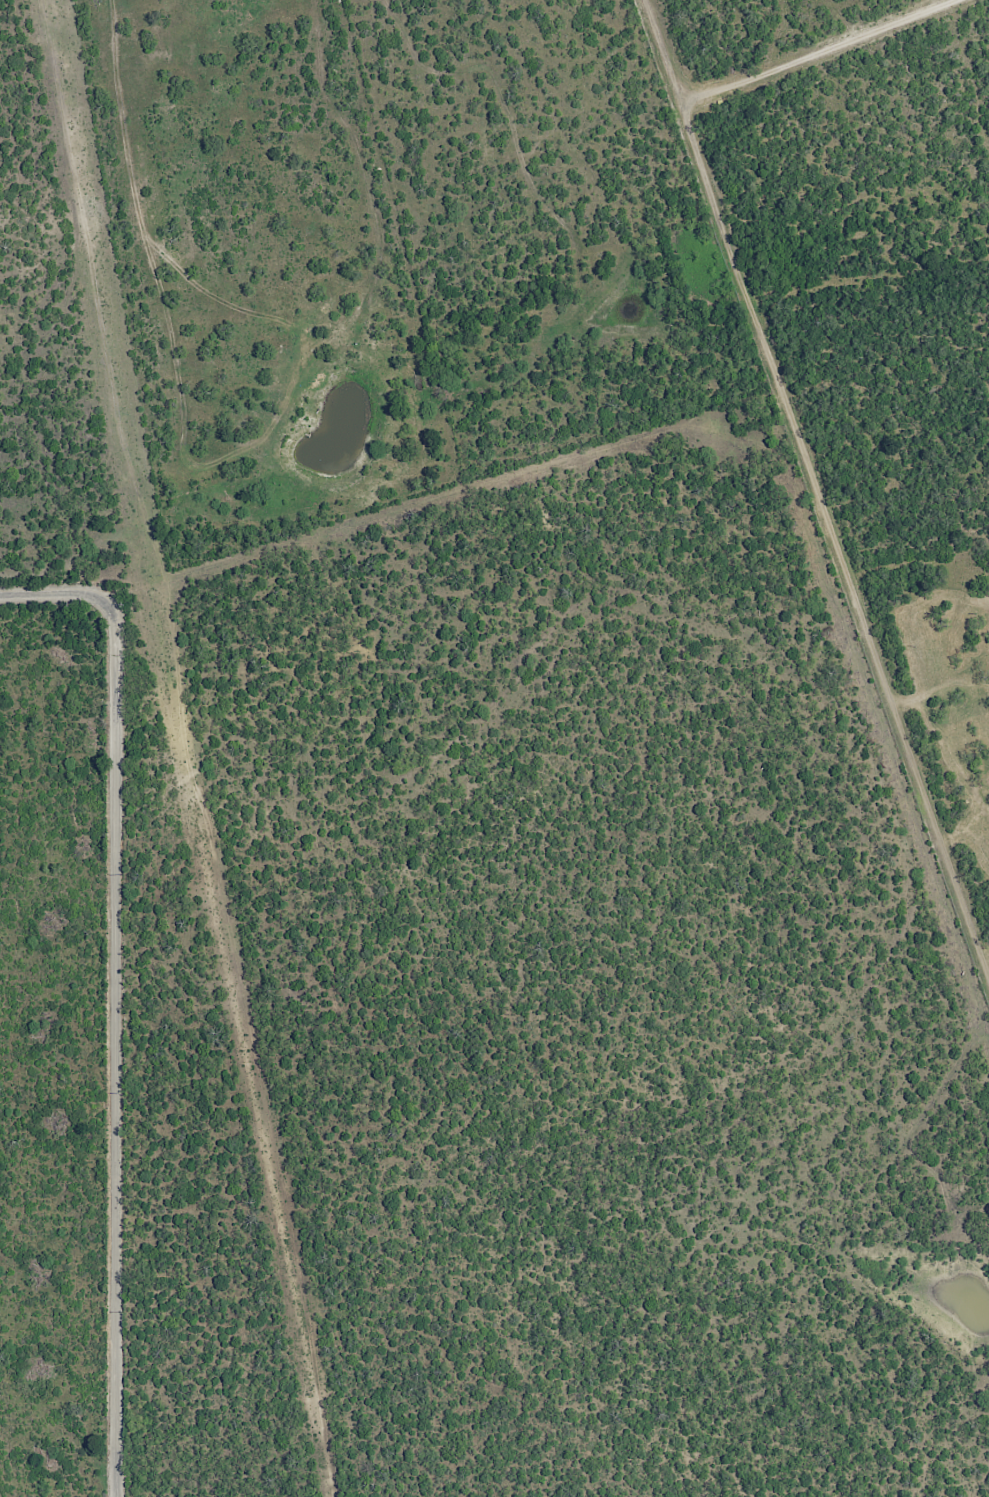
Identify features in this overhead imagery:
road: (822, 53)
road: (818, 486)
road: (12, 681)
road: (43, 1010)
road: (104, 1053)
road: (6, 1137)
road: (52, 1278)
road: (41, 1387)

